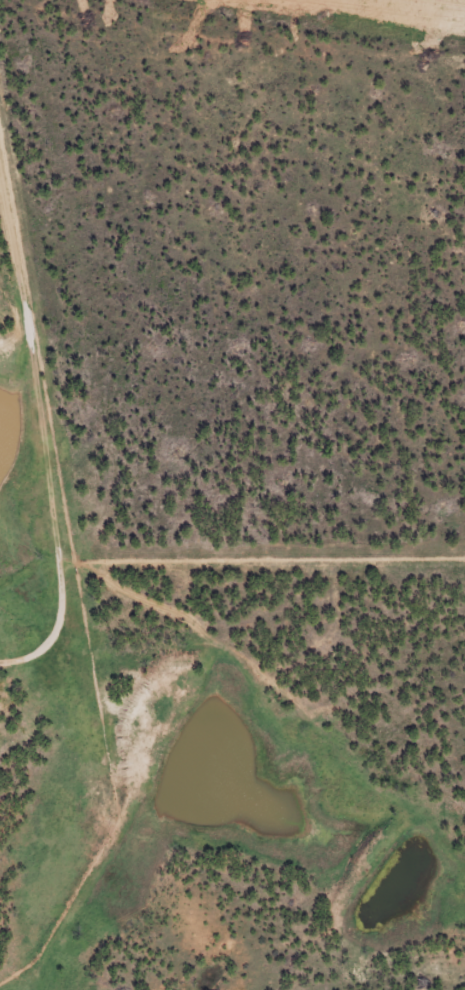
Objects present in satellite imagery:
railway: (341, 15)

